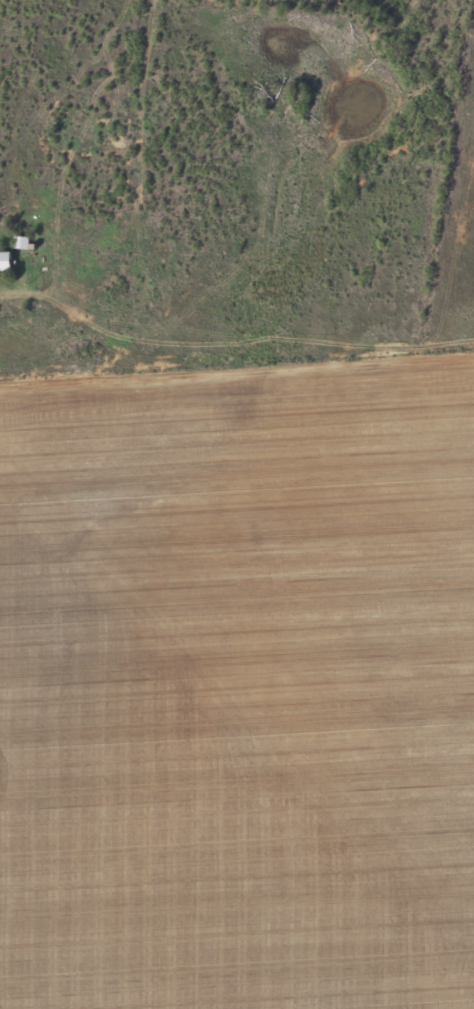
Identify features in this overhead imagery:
building: (20, 244)
building: (4, 262)
road: (237, 357)

